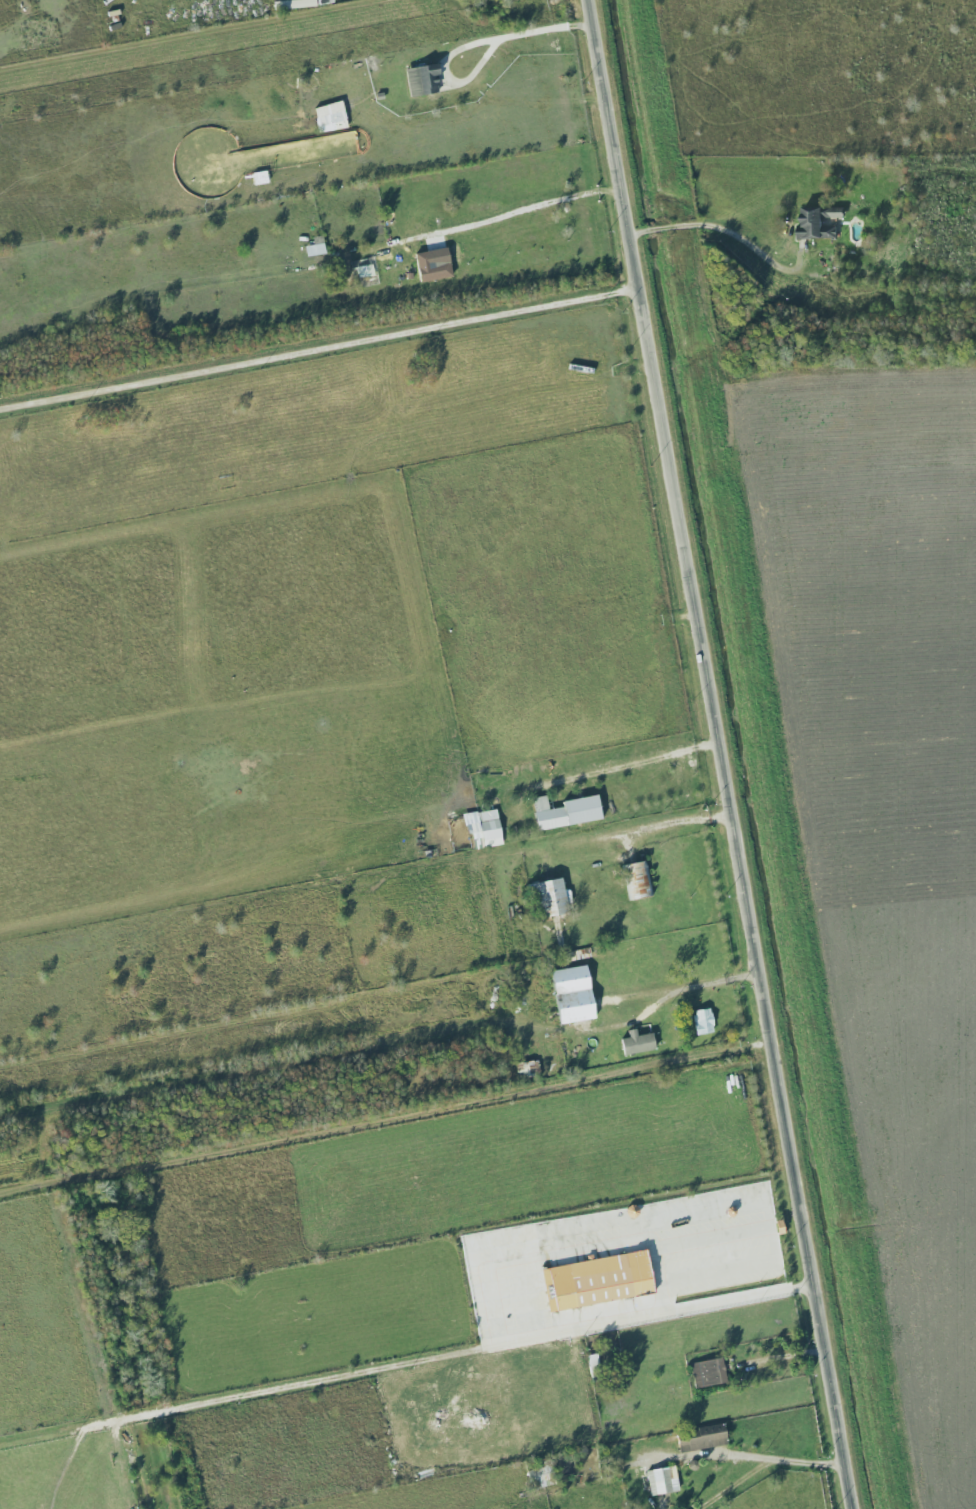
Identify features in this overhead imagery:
road: (526, 26)
building: (426, 78)
building: (333, 116)
road: (513, 209)
road: (721, 227)
building: (436, 264)
road: (318, 350)
road: (719, 754)
building: (570, 812)
road: (645, 827)
building: (486, 829)
building: (555, 897)
road: (692, 980)
building: (578, 994)
building: (706, 1021)
building: (640, 1043)
building: (601, 1279)
road: (780, 1357)
road: (405, 1359)
building: (710, 1371)
road: (751, 1455)
building: (665, 1479)

